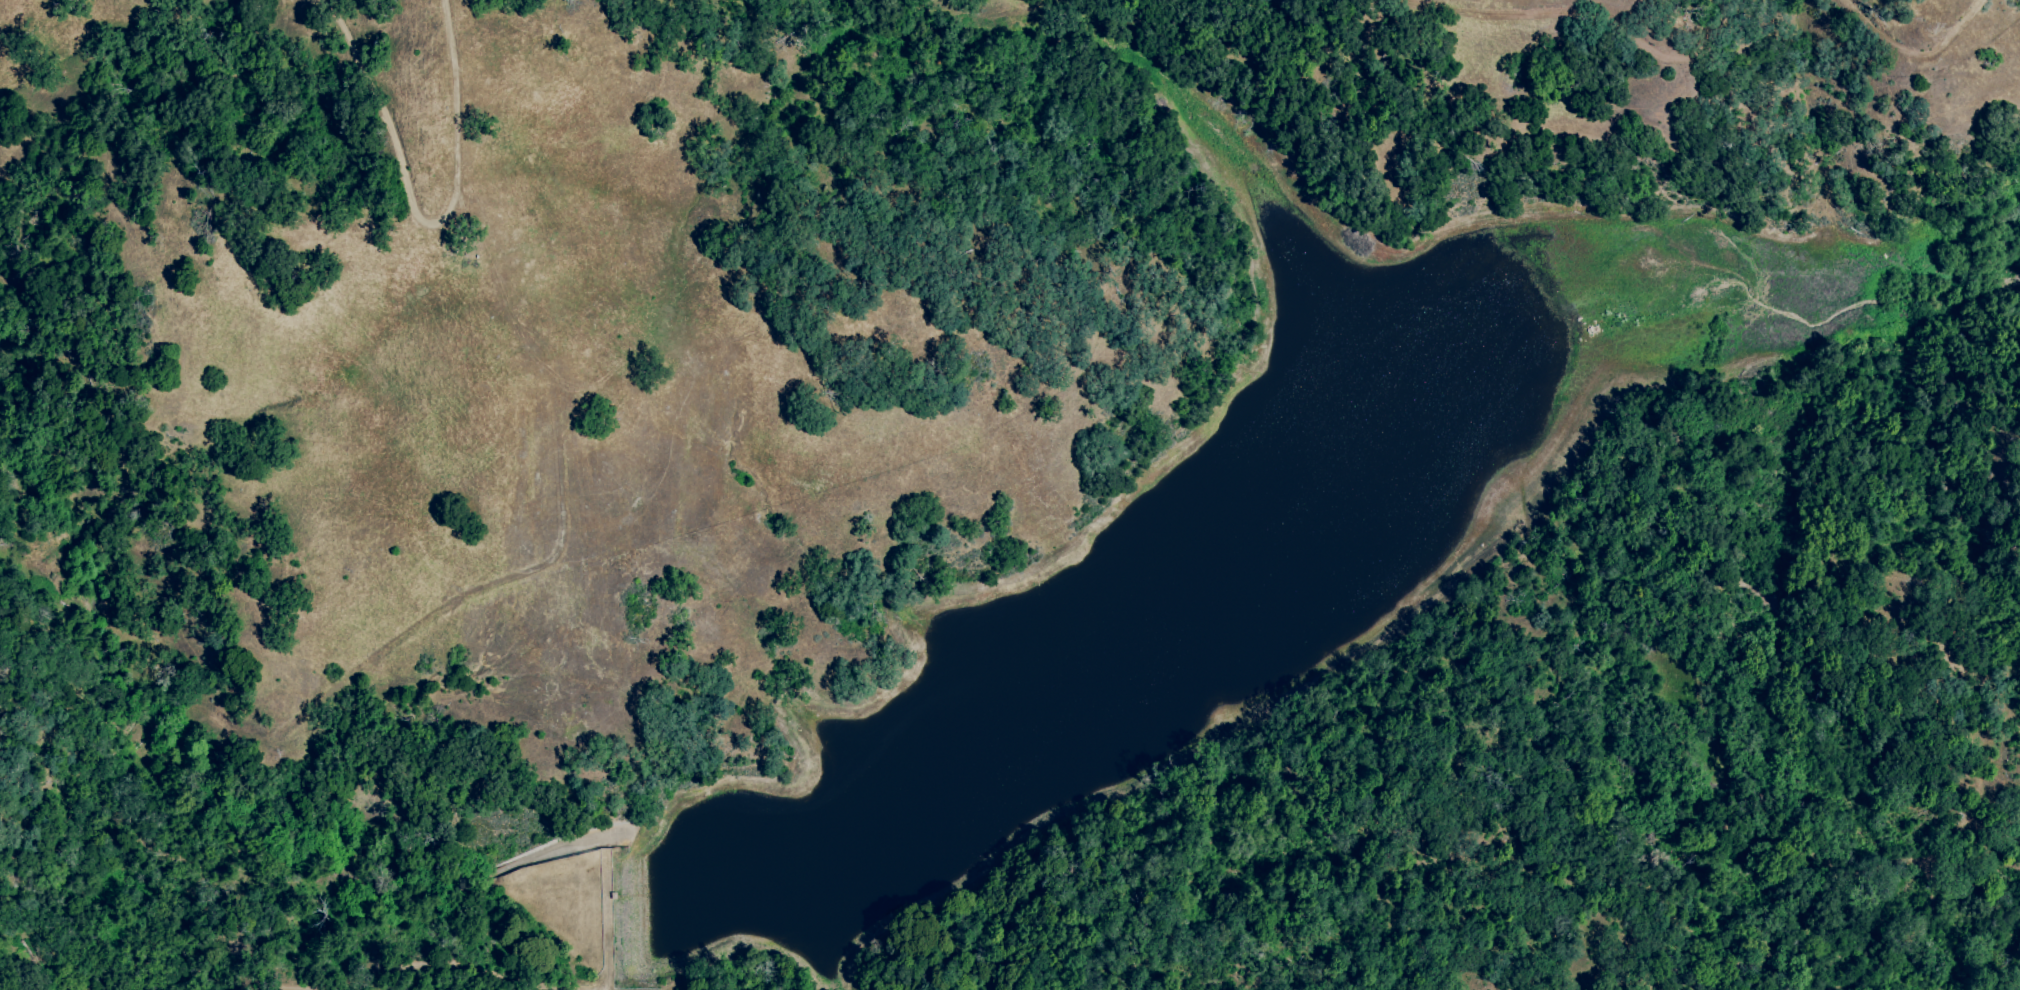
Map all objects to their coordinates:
road: (424, 220)
dam: (631, 913)

